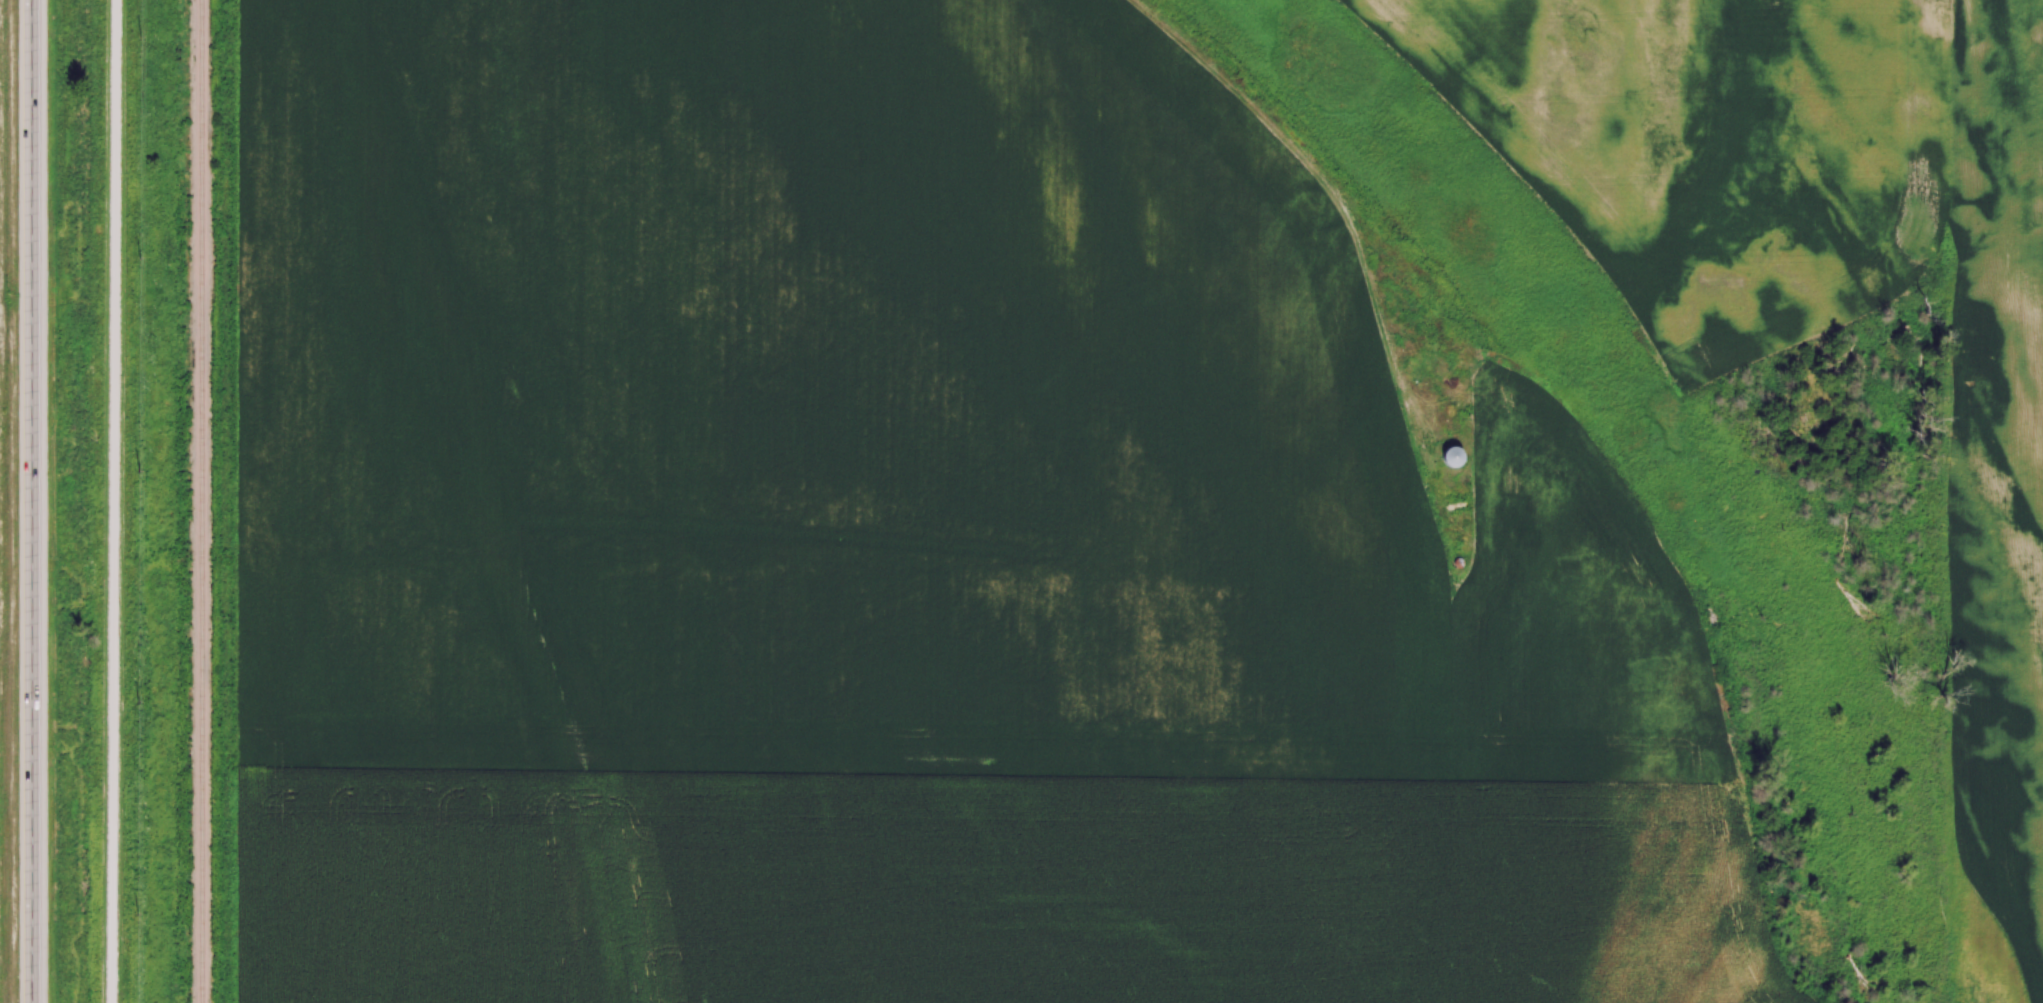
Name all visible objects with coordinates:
road: (31, 501)
road: (114, 501)
railway: (203, 501)

